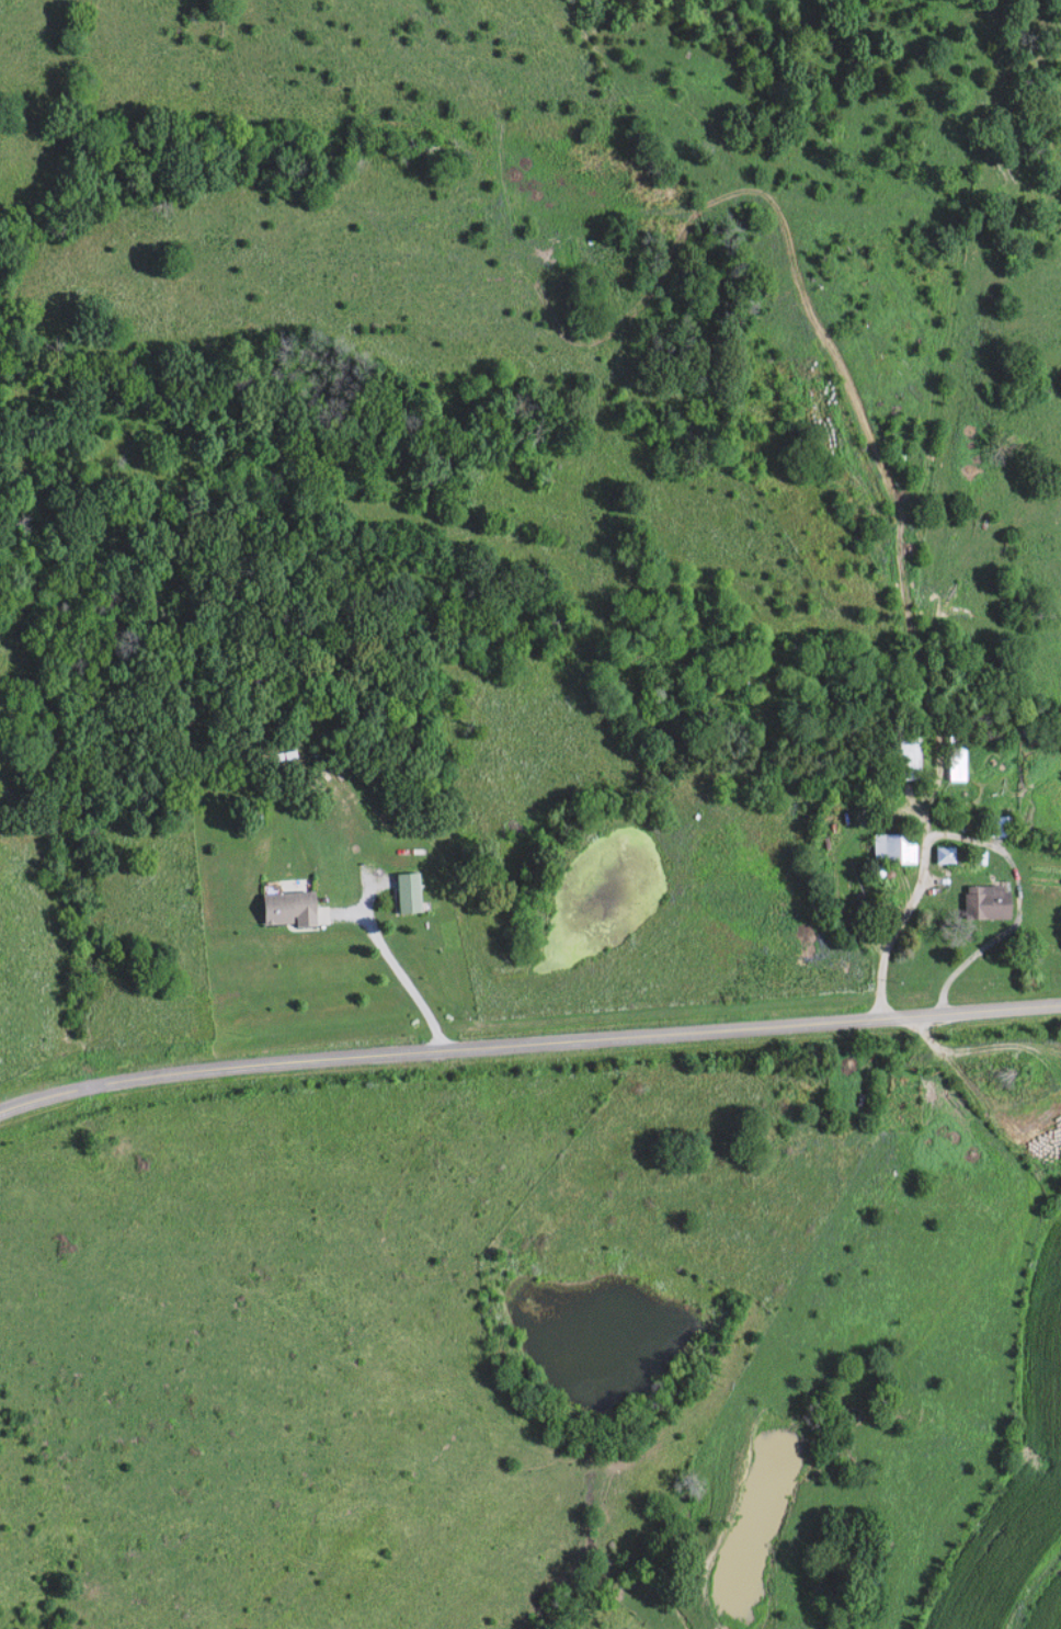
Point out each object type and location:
road: (909, 540)
building: (903, 756)
building: (952, 759)
building: (996, 827)
building: (890, 848)
building: (940, 855)
building: (404, 892)
building: (981, 902)
building: (284, 909)
road: (528, 1043)
road: (1033, 1586)

